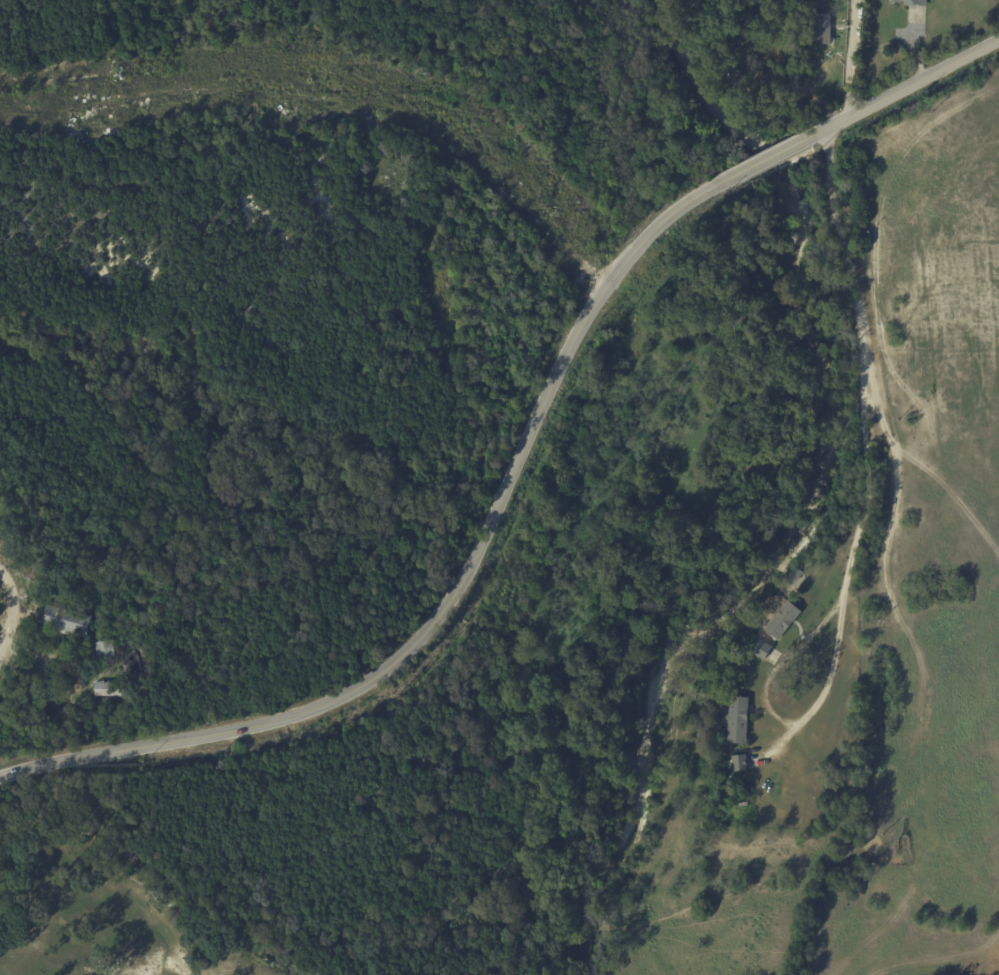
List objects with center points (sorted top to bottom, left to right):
building: (916, 2)
building: (820, 5)
building: (822, 29)
road: (849, 61)
road: (900, 90)
road: (339, 103)
road: (767, 161)
road: (868, 447)
road: (454, 591)
road: (13, 612)
building: (785, 620)
building: (68, 622)
building: (764, 650)
building: (107, 655)
building: (114, 689)
building: (738, 720)
building: (741, 763)

